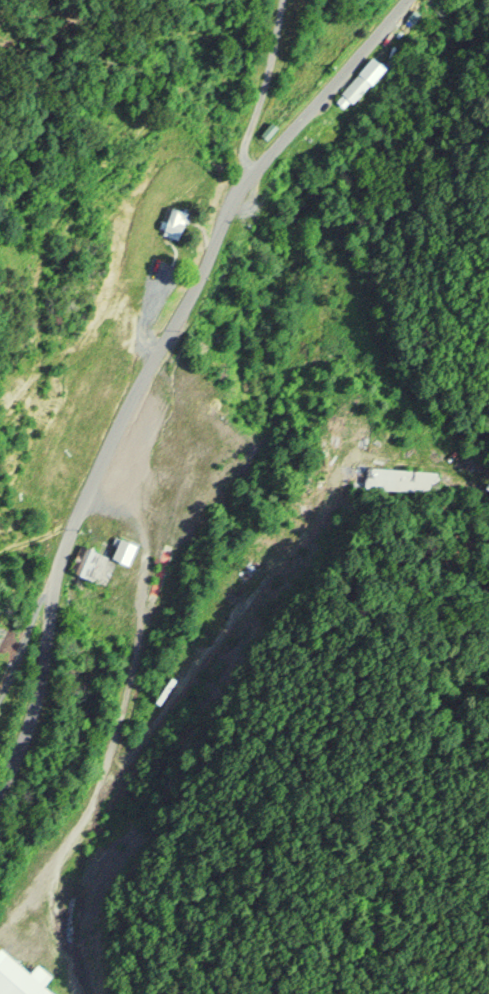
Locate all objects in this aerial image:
building: (364, 80)
building: (178, 222)
road: (146, 370)
building: (370, 474)
building: (126, 550)
building: (90, 561)
building: (22, 977)

